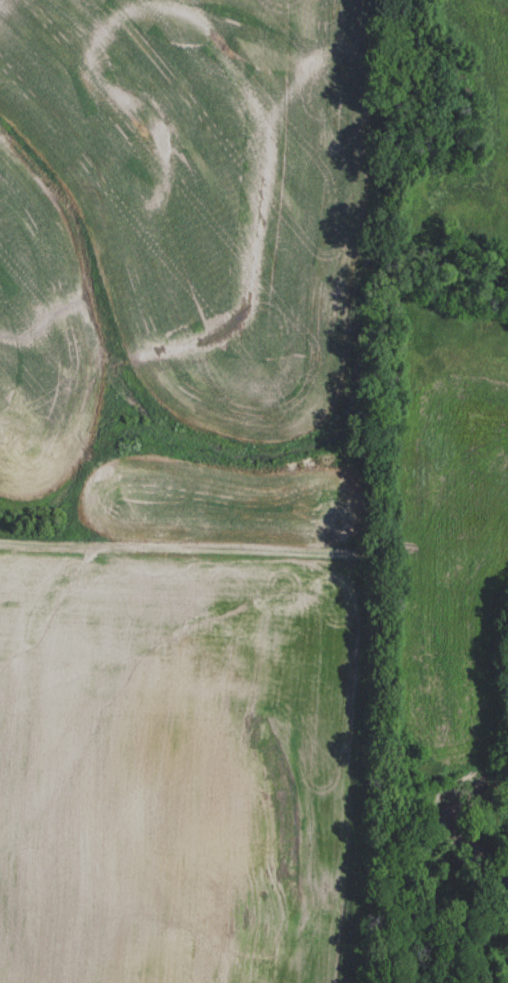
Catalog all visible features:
road: (173, 548)

